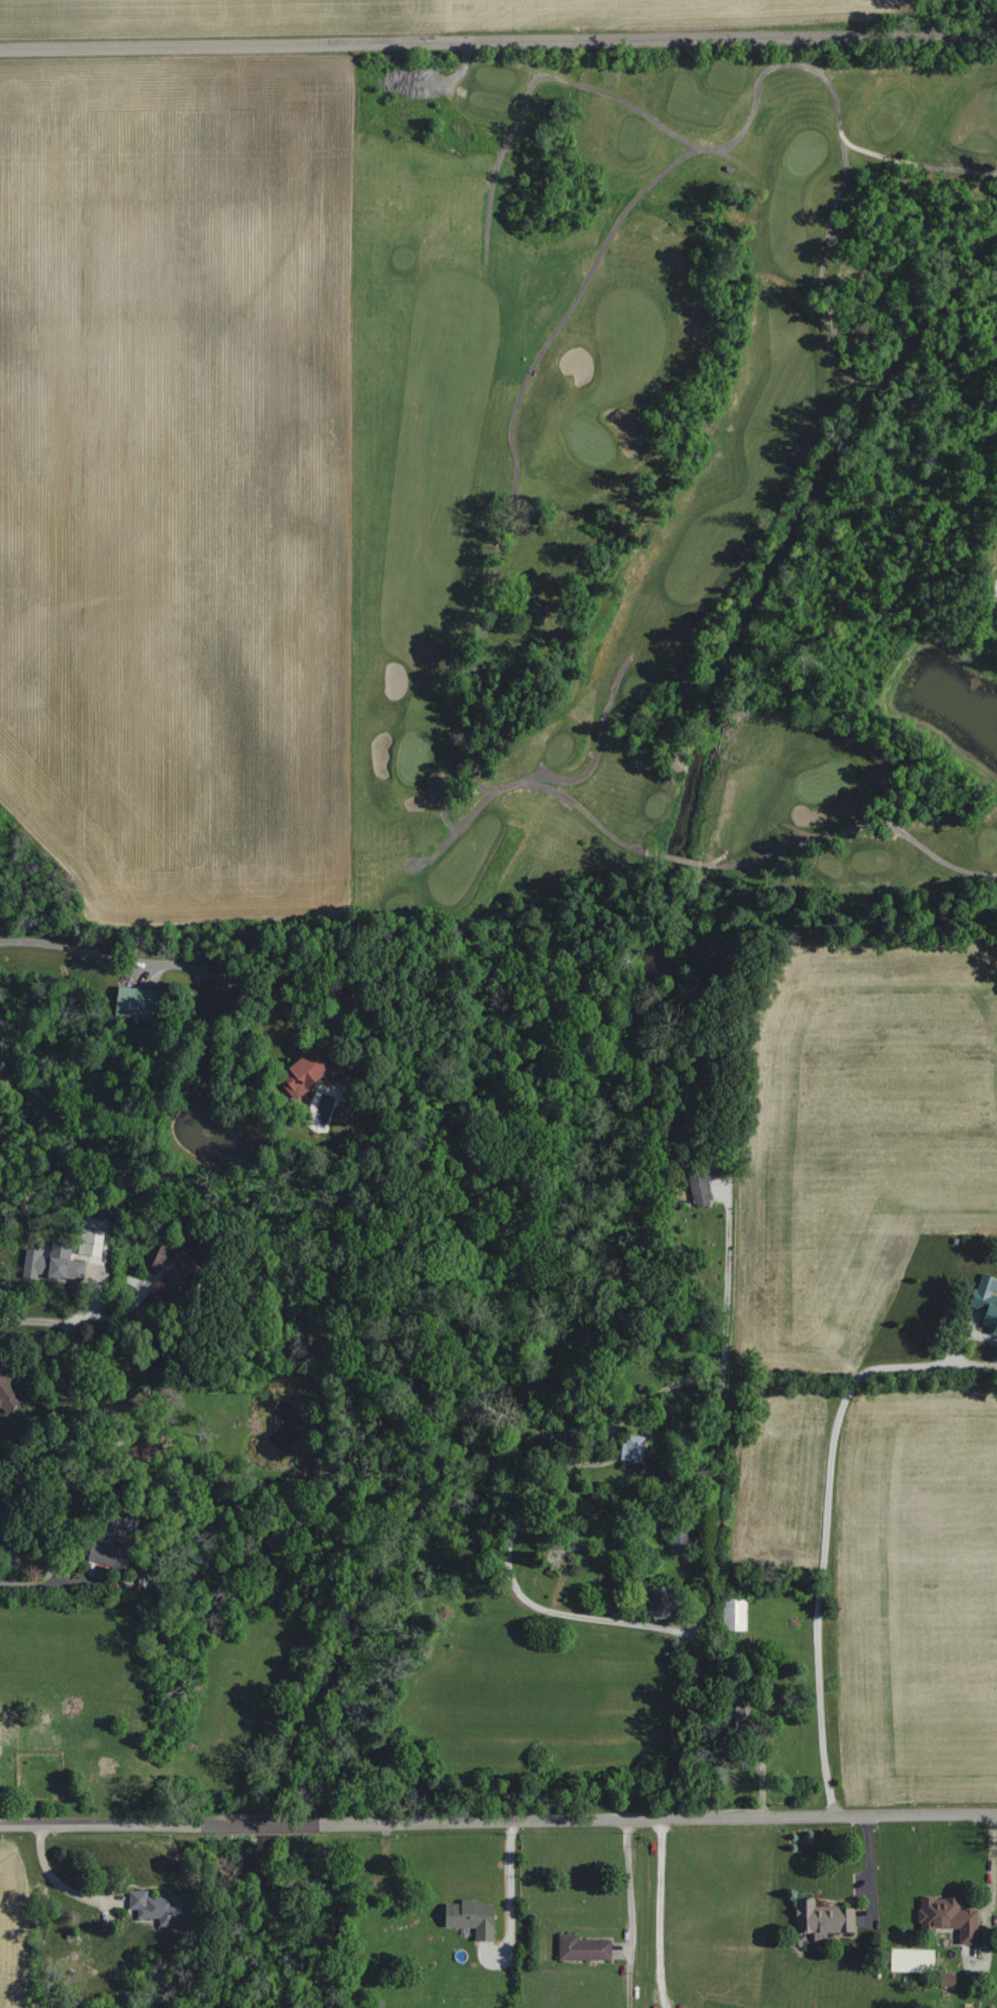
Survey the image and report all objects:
road: (498, 39)
park: (892, 118)
road: (715, 148)
park: (806, 154)
road: (737, 160)
park: (584, 442)
park: (675, 486)
road: (510, 506)
river: (766, 578)
park: (531, 588)
park: (414, 756)
road: (594, 761)
park: (825, 780)
road: (458, 824)
road: (438, 850)
road: (762, 855)
road: (132, 959)
building: (138, 1002)
building: (359, 1004)
road: (341, 1016)
building: (306, 1070)
building: (704, 1181)
building: (91, 1243)
building: (60, 1268)
building: (174, 1270)
road: (726, 1291)
building: (987, 1299)
building: (9, 1392)
building: (137, 1402)
road: (69, 1439)
building: (634, 1448)
building: (145, 1451)
road: (538, 1493)
road: (825, 1529)
building: (680, 1542)
building: (112, 1543)
building: (661, 1602)
building: (737, 1614)
building: (764, 1678)
road: (701, 1724)
building: (738, 1724)
building: (38, 1729)
road: (661, 1818)
road: (266, 1823)
road: (103, 1824)
road: (510, 1880)
road: (52, 1881)
building: (161, 1907)
road: (641, 1912)
road: (671, 1913)
building: (473, 1917)
building: (824, 1917)
building: (950, 1917)
building: (584, 1948)
building: (913, 1960)

